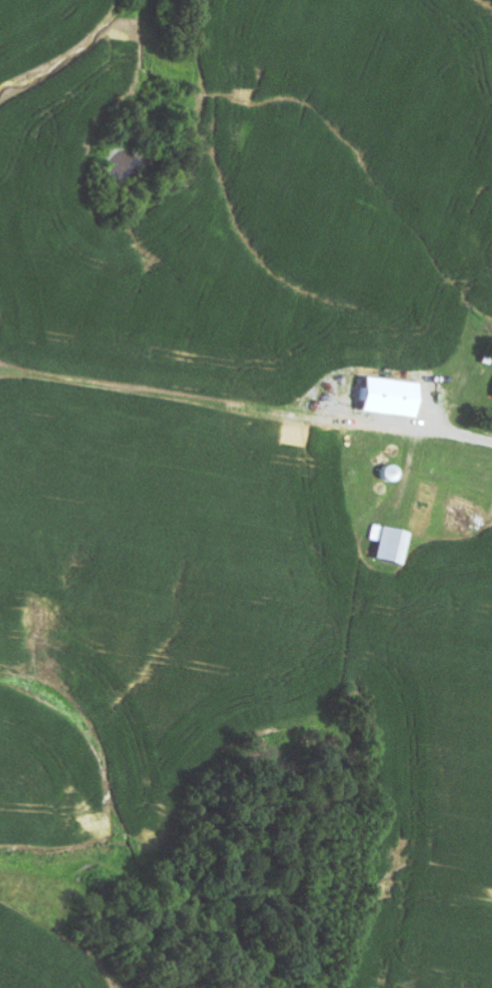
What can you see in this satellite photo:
building: (491, 394)
building: (382, 397)

